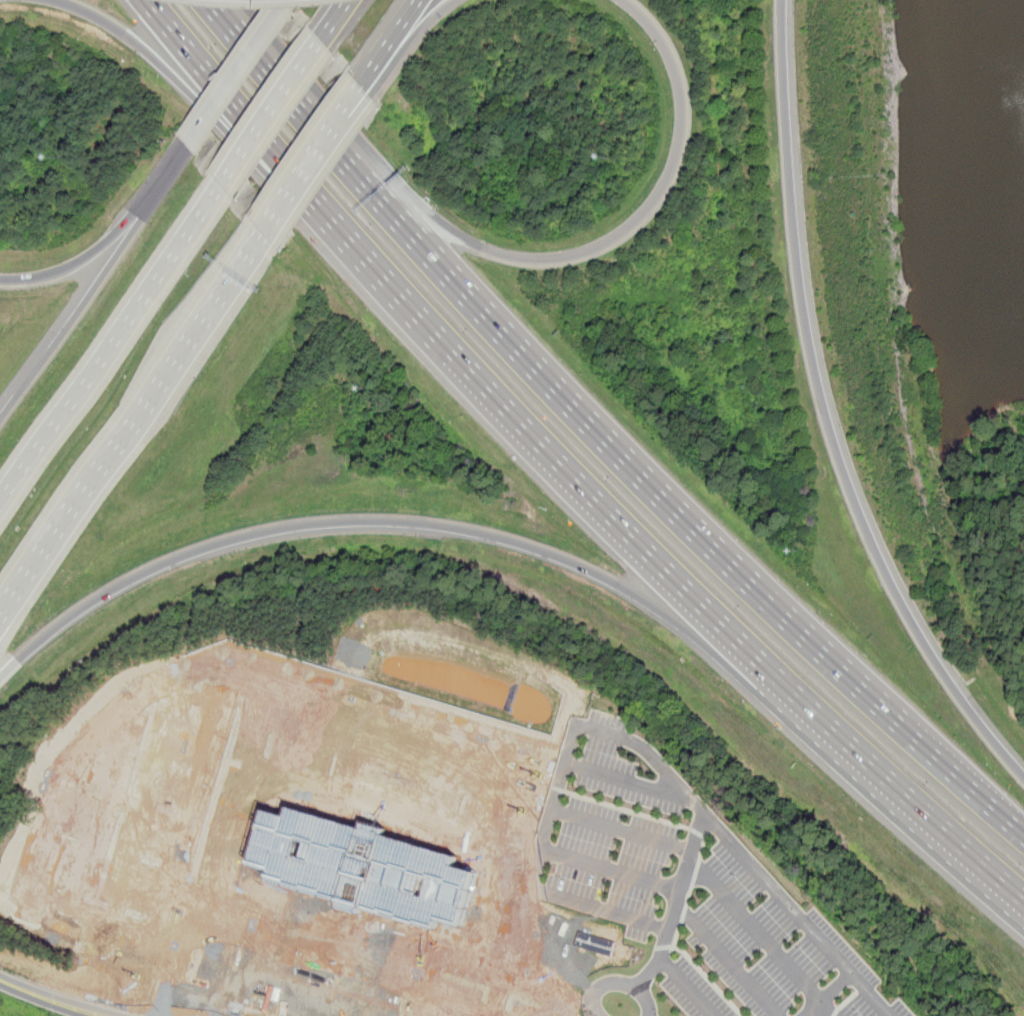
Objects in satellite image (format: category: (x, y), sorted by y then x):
road: (336, 17)
road: (404, 21)
road: (424, 24)
road: (374, 63)
road: (162, 66)
road: (299, 72)
road: (238, 73)
road: (210, 81)
road: (285, 83)
road: (336, 120)
road: (246, 147)
road: (176, 164)
road: (290, 186)
road: (287, 193)
road: (612, 239)
road: (93, 252)
road: (83, 304)
road: (110, 348)
road: (550, 383)
road: (496, 399)
road: (825, 414)
road: (130, 421)
road: (350, 521)
road: (888, 710)
road: (871, 764)
road: (406, 767)
road: (74, 768)
road: (630, 782)
road: (151, 801)
road: (556, 801)
road: (101, 809)
road: (394, 809)
road: (712, 821)
parking lot: (616, 830)
road: (623, 832)
road: (223, 847)
building: (344, 855)
road: (610, 872)
road: (234, 919)
road: (755, 932)
parking lot: (764, 935)
road: (382, 948)
road: (511, 952)
road: (725, 961)
road: (850, 973)
road: (361, 975)
road: (617, 985)
road: (684, 988)
road: (265, 990)
parking lot: (694, 991)
road: (50, 999)
parking lot: (875, 1006)
road: (827, 1009)

